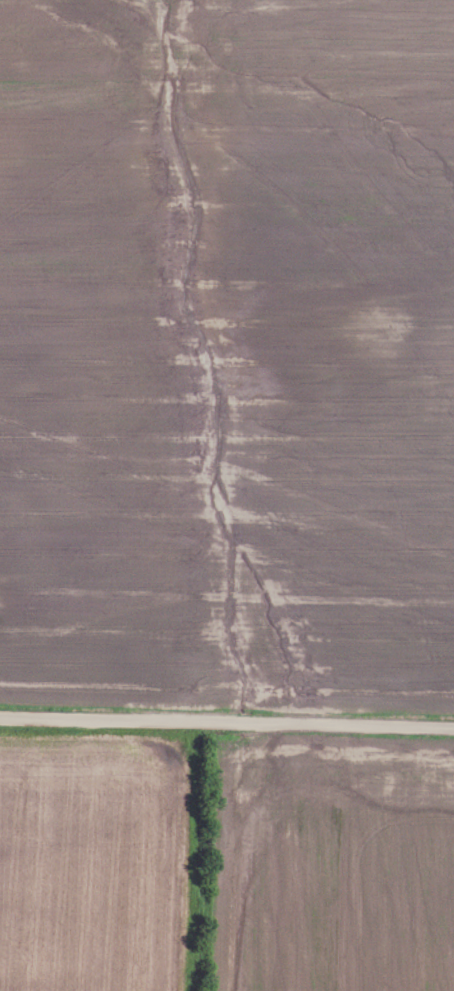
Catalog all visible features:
road: (227, 722)

